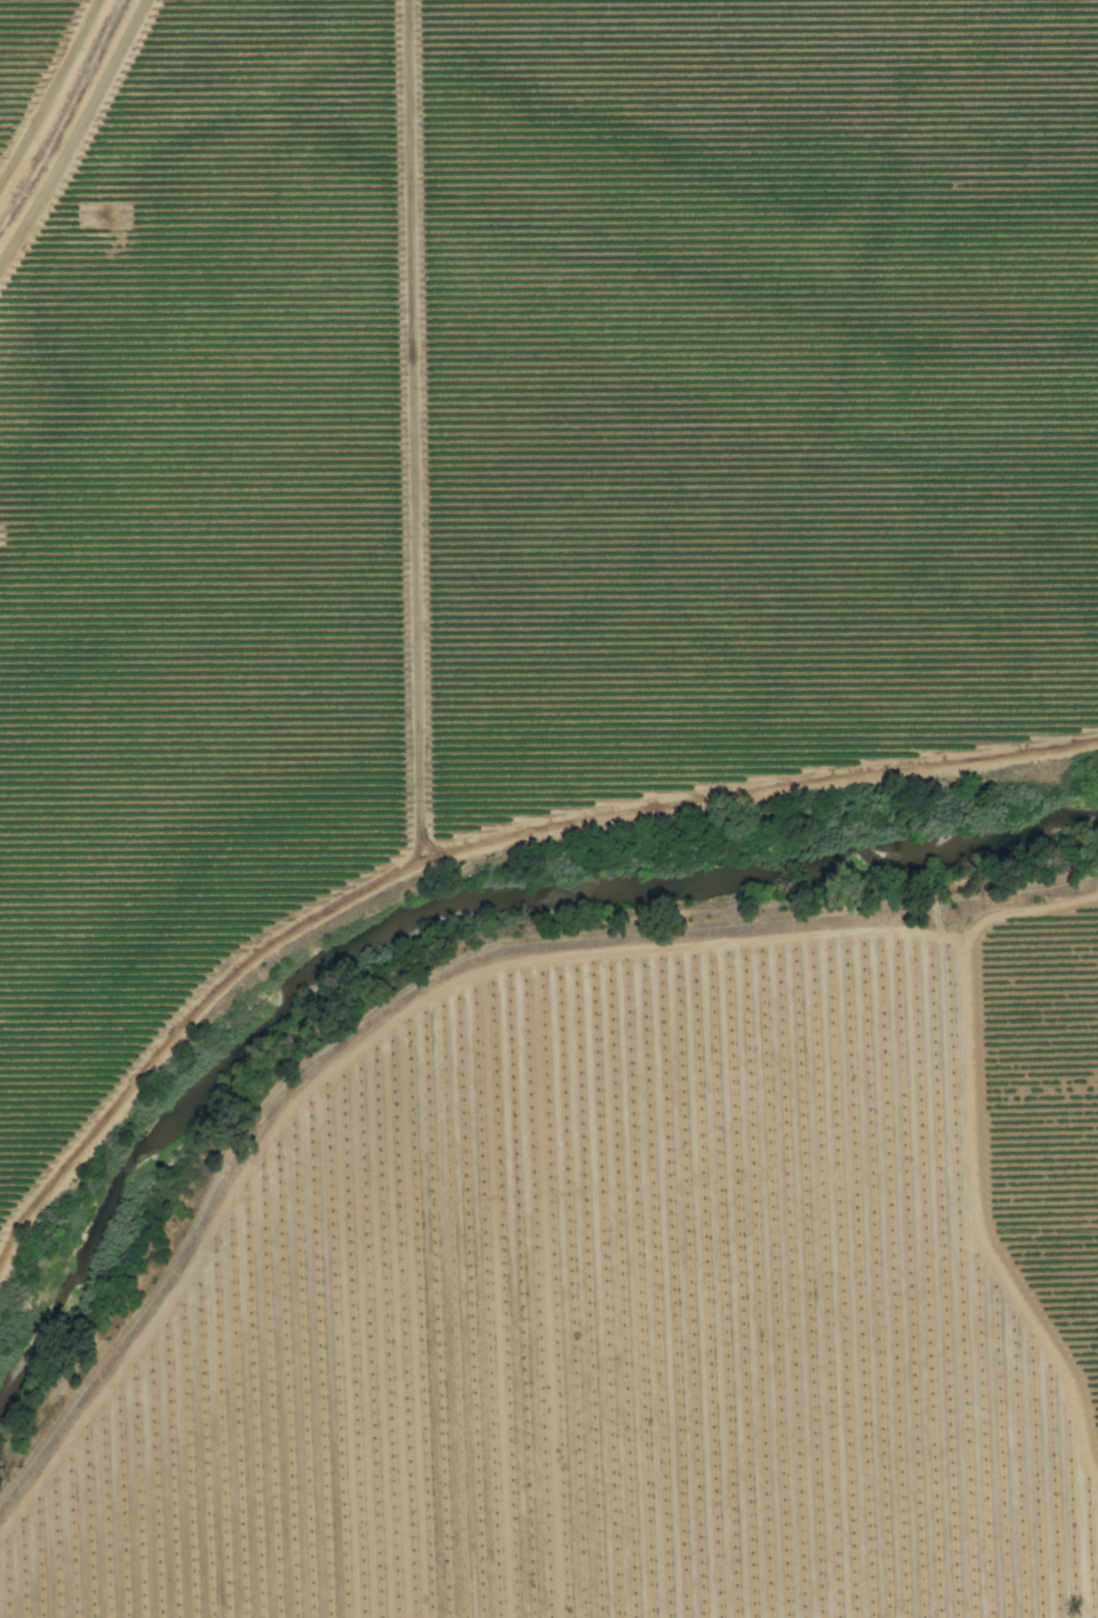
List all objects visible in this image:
crop: (533, 467)
crop: (1037, 1130)

